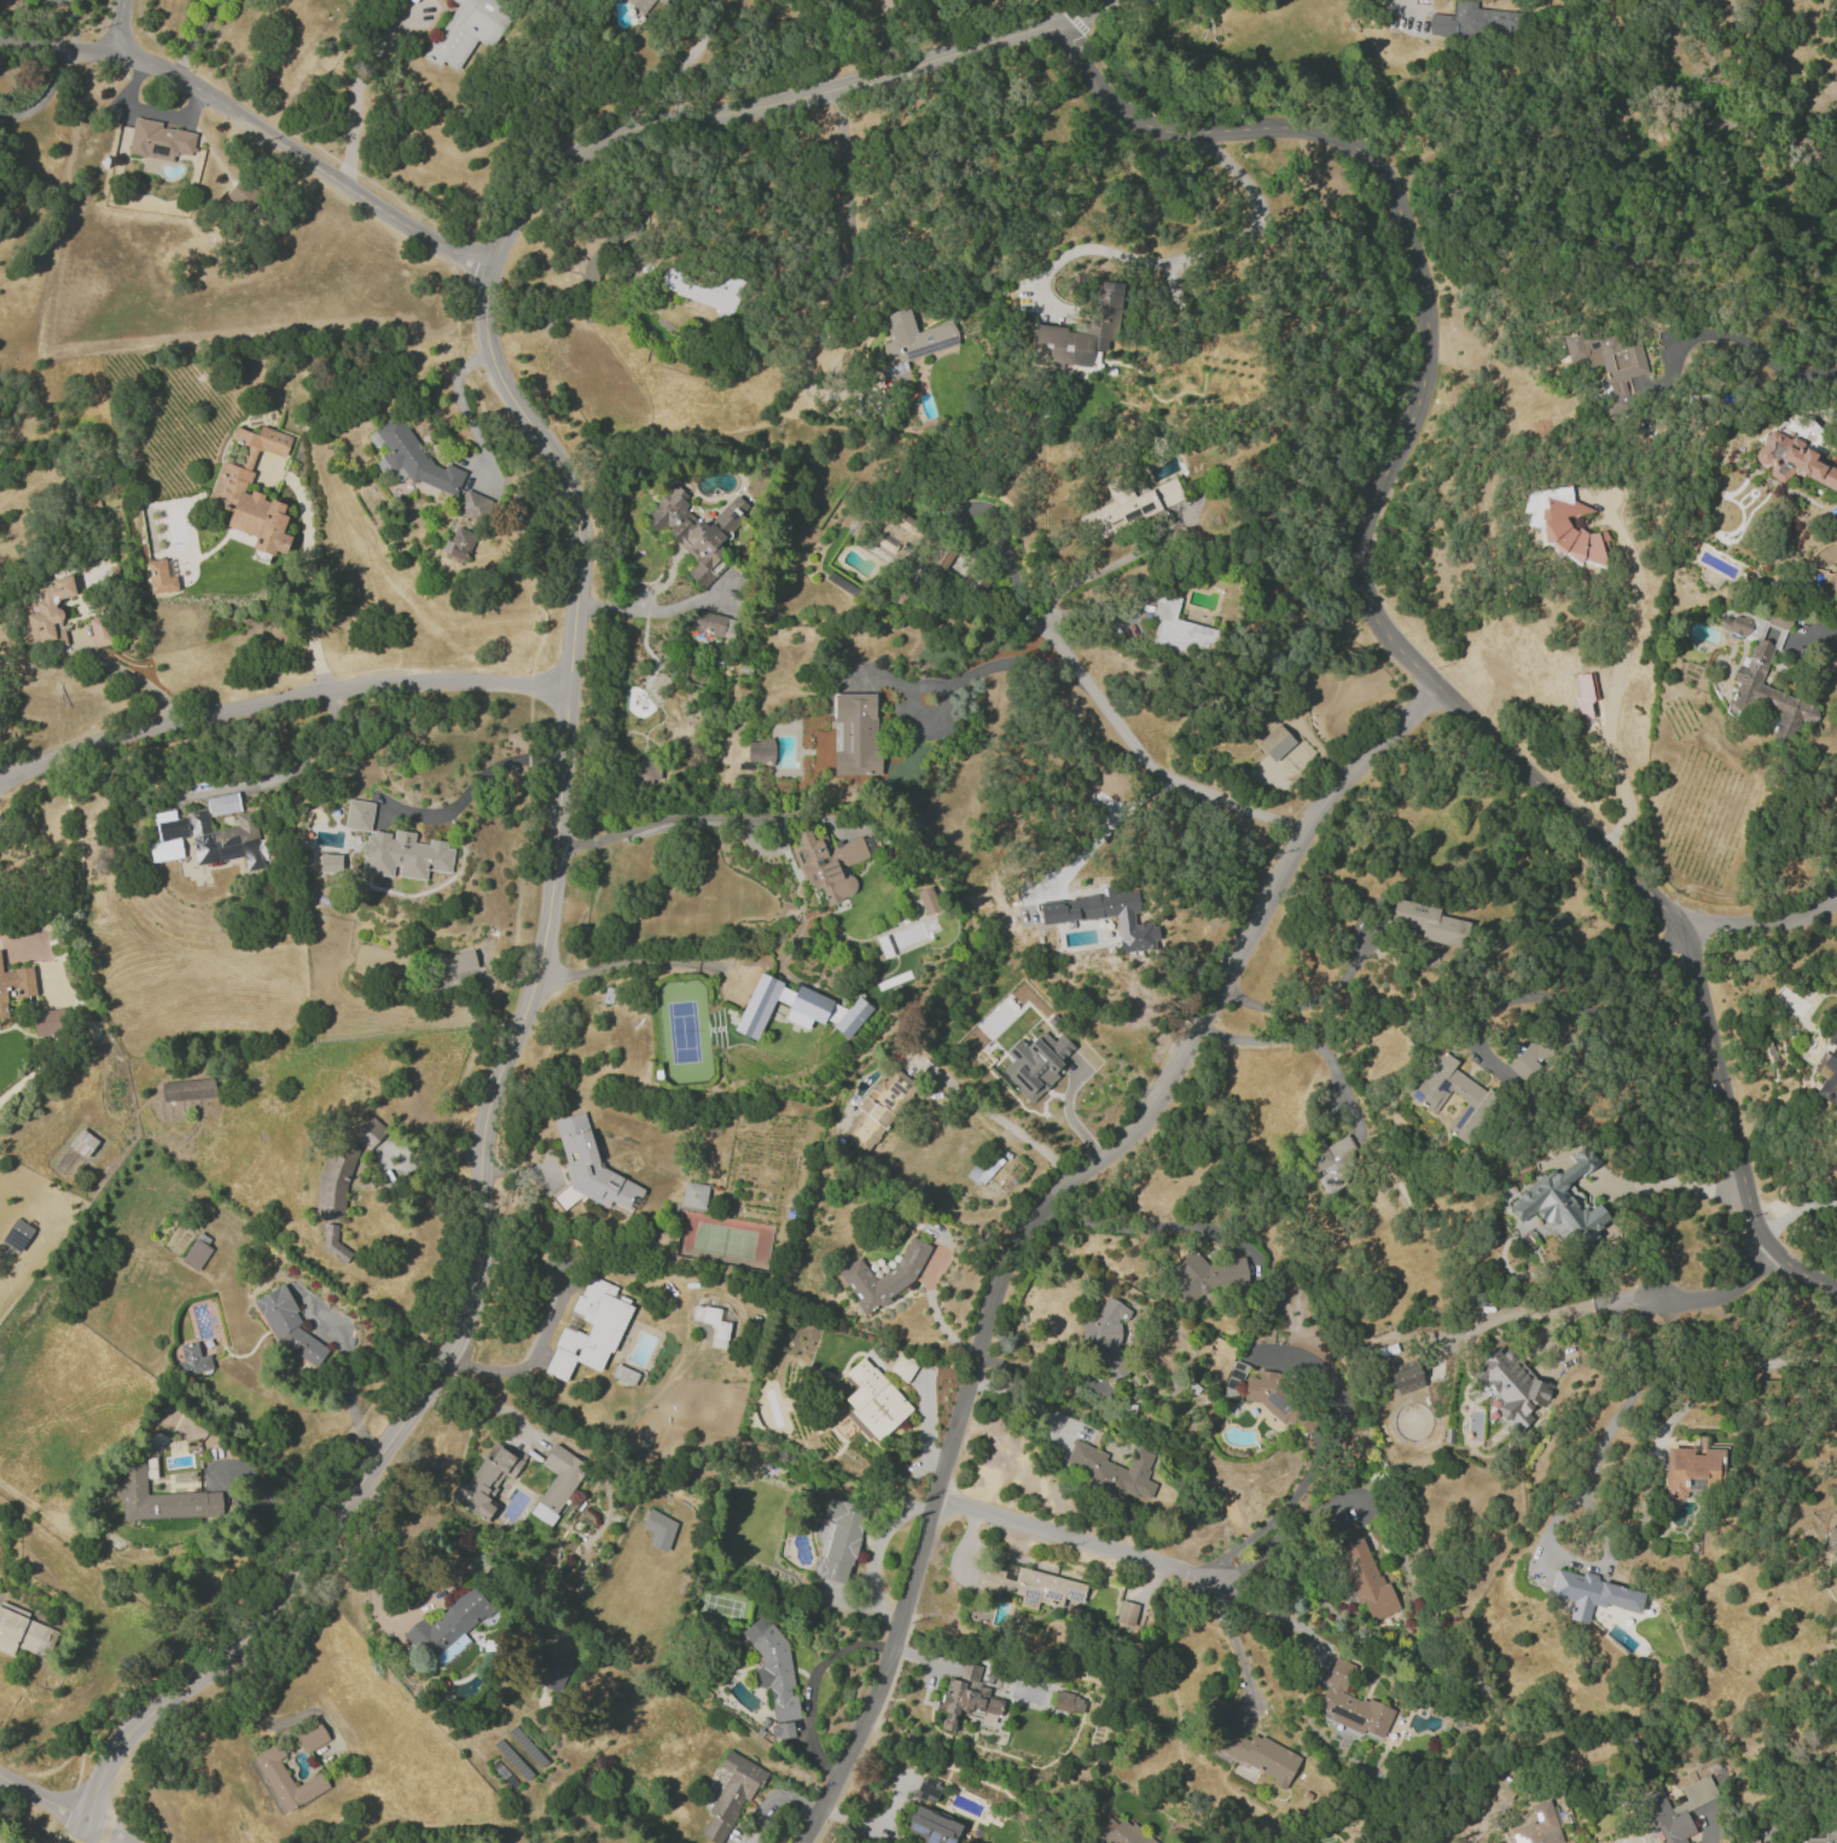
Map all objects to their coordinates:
building: (640, 4)
road: (1401, 5)
building: (1473, 22)
road: (122, 24)
building: (467, 30)
road: (895, 34)
road: (193, 36)
road: (686, 59)
road: (361, 82)
road: (42, 94)
road: (1440, 107)
road: (252, 123)
building: (157, 140)
building: (240, 194)
road: (1201, 255)
road: (842, 268)
building: (699, 286)
building: (1079, 332)
building: (1608, 362)
road: (464, 407)
building: (1791, 460)
building: (251, 492)
building: (472, 505)
building: (1127, 506)
building: (1560, 525)
building: (694, 531)
building: (459, 543)
road: (1106, 566)
road: (996, 572)
building: (1833, 572)
building: (159, 577)
road: (309, 588)
road: (636, 610)
building: (45, 614)
road: (1373, 615)
building: (711, 623)
building: (1178, 628)
building: (99, 630)
road: (1824, 635)
road: (993, 667)
road: (129, 675)
building: (1762, 678)
road: (1616, 685)
building: (1582, 693)
road: (279, 704)
building: (854, 734)
building: (1274, 742)
building: (758, 751)
road: (1144, 758)
road: (562, 763)
road: (287, 772)
building: (646, 772)
road: (472, 786)
building: (222, 803)
building: (357, 815)
road: (646, 821)
road: (1099, 836)
building: (216, 838)
building: (402, 855)
building: (826, 864)
road: (31, 882)
building: (928, 899)
building: (1106, 915)
road: (1760, 921)
building: (1428, 923)
road: (630, 961)
building: (452, 963)
building: (14, 986)
road: (1550, 986)
road: (1302, 1007)
building: (795, 1008)
building: (47, 1022)
road: (1307, 1040)
building: (1527, 1060)
building: (1035, 1063)
building: (1827, 1070)
building: (186, 1089)
building: (1478, 1106)
building: (880, 1109)
road: (1068, 1111)
road: (1006, 1124)
building: (368, 1133)
building: (82, 1143)
building: (1333, 1163)
building: (588, 1169)
building: (983, 1169)
building: (333, 1179)
road: (1669, 1181)
building: (693, 1194)
building: (1562, 1199)
road: (1796, 1210)
road: (1030, 1213)
road: (1122, 1226)
building: (19, 1228)
building: (330, 1242)
building: (194, 1254)
building: (883, 1275)
building: (1207, 1275)
road: (1730, 1301)
road: (932, 1310)
road: (1550, 1310)
road: (548, 1320)
building: (287, 1325)
building: (588, 1330)
building: (719, 1335)
building: (1105, 1335)
building: (192, 1359)
road: (1737, 1370)
building: (623, 1374)
building: (1405, 1377)
road: (345, 1384)
building: (1510, 1386)
building: (1267, 1394)
building: (874, 1399)
road: (482, 1405)
road: (925, 1423)
road: (1604, 1432)
road: (1320, 1452)
building: (1691, 1469)
building: (1110, 1470)
building: (484, 1481)
building: (557, 1482)
road: (227, 1496)
building: (159, 1498)
road: (1284, 1528)
building: (658, 1529)
building: (841, 1539)
building: (1831, 1539)
road: (1076, 1541)
road: (868, 1556)
building: (1361, 1571)
road: (368, 1574)
building: (1030, 1586)
building: (1591, 1594)
building: (1124, 1612)
road: (1273, 1612)
building: (449, 1627)
road: (1233, 1638)
building: (773, 1665)
building: (552, 1673)
road: (810, 1684)
building: (969, 1699)
building: (1068, 1702)
building: (1349, 1704)
building: (1214, 1709)
building: (780, 1731)
building: (310, 1737)
building: (1256, 1755)
building: (284, 1779)
building: (928, 1789)
building: (728, 1796)
road: (43, 1798)
building: (1674, 1809)
building: (932, 1826)
building: (1536, 1826)
building: (1831, 1829)
road: (106, 1831)
building: (1120, 1832)

